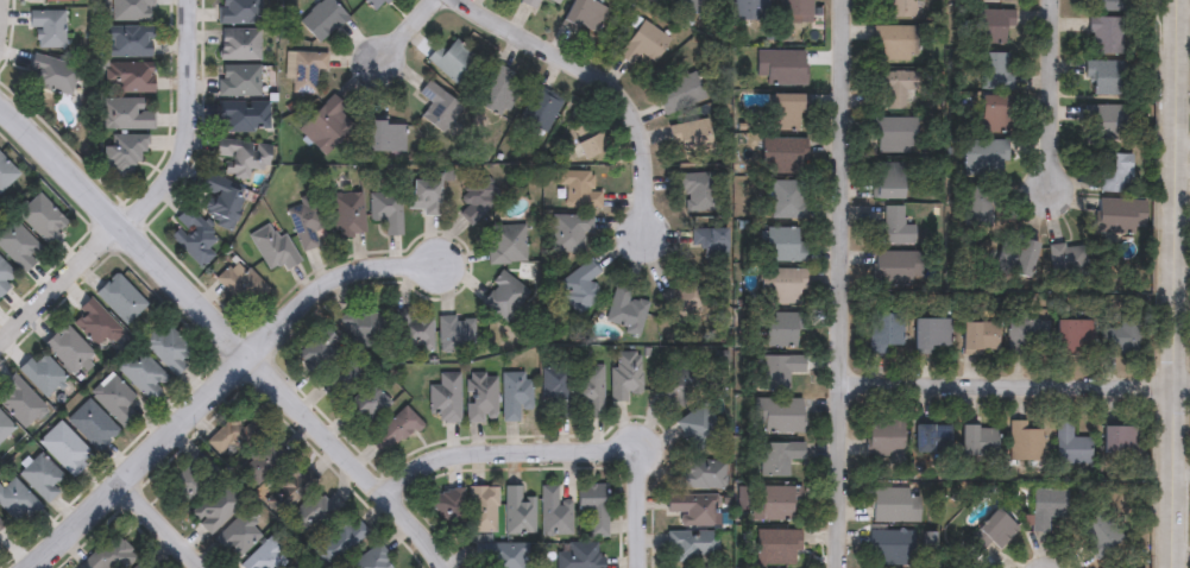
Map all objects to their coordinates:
building: (993, 0)
building: (61, 1)
building: (555, 1)
building: (647, 1)
building: (530, 2)
building: (376, 4)
building: (1106, 6)
building: (692, 7)
building: (901, 8)
building: (751, 10)
building: (131, 11)
building: (239, 12)
building: (795, 12)
building: (585, 17)
building: (321, 20)
building: (991, 26)
building: (48, 29)
road: (401, 31)
building: (1104, 34)
building: (128, 42)
building: (895, 43)
building: (642, 44)
building: (238, 45)
building: (452, 59)
building: (781, 67)
building: (303, 70)
building: (996, 70)
building: (52, 76)
building: (1106, 76)
building: (128, 77)
building: (238, 81)
road: (598, 82)
building: (895, 89)
building: (497, 90)
building: (679, 90)
road: (1058, 96)
building: (436, 107)
building: (537, 112)
building: (785, 113)
building: (994, 114)
building: (122, 115)
building: (243, 116)
building: (1106, 119)
road: (189, 122)
building: (325, 125)
building: (895, 135)
building: (385, 138)
building: (691, 139)
building: (588, 140)
building: (122, 153)
building: (782, 156)
building: (241, 157)
building: (984, 158)
building: (1115, 172)
building: (6, 175)
building: (888, 182)
building: (578, 190)
building: (698, 190)
building: (424, 196)
building: (476, 198)
building: (787, 200)
building: (219, 201)
building: (984, 207)
building: (385, 212)
building: (347, 215)
building: (1121, 216)
building: (42, 220)
building: (304, 225)
building: (894, 227)
building: (569, 233)
building: (193, 238)
building: (710, 242)
building: (506, 245)
building: (785, 245)
building: (18, 246)
building: (272, 247)
building: (1014, 254)
building: (1069, 263)
building: (894, 269)
building: (5, 278)
road: (844, 283)
road: (1178, 283)
road: (63, 286)
building: (240, 286)
building: (781, 286)
building: (580, 288)
building: (504, 297)
building: (120, 299)
building: (624, 308)
building: (94, 324)
building: (364, 327)
road: (229, 329)
building: (782, 329)
building: (413, 330)
building: (887, 332)
building: (455, 335)
building: (931, 336)
building: (1072, 336)
building: (977, 337)
building: (1027, 337)
building: (1122, 337)
building: (68, 351)
building: (169, 351)
building: (319, 352)
building: (776, 372)
building: (141, 374)
building: (624, 374)
building: (42, 375)
road: (213, 381)
building: (680, 383)
road: (1015, 384)
building: (554, 391)
building: (588, 391)
building: (515, 395)
building: (446, 398)
building: (480, 398)
building: (117, 400)
building: (19, 403)
building: (364, 406)
building: (779, 416)
building: (92, 425)
building: (4, 429)
building: (699, 429)
building: (393, 431)
building: (886, 435)
building: (932, 438)
building: (1119, 441)
building: (977, 442)
building: (1024, 443)
building: (240, 444)
building: (1069, 444)
building: (64, 449)
road: (559, 450)
building: (779, 457)
building: (701, 475)
building: (39, 479)
building: (188, 484)
building: (287, 490)
building: (15, 504)
building: (774, 505)
building: (894, 505)
building: (447, 506)
building: (592, 507)
building: (1046, 507)
building: (483, 510)
building: (212, 511)
building: (518, 512)
building: (313, 513)
building: (554, 513)
building: (691, 513)
road: (162, 520)
building: (0, 528)
building: (993, 532)
building: (1097, 535)
building: (238, 537)
building: (341, 541)
building: (0, 543)
building: (692, 547)
building: (892, 547)
building: (777, 548)
building: (502, 555)
building: (265, 556)
building: (579, 556)
building: (372, 560)
building: (139, 564)

